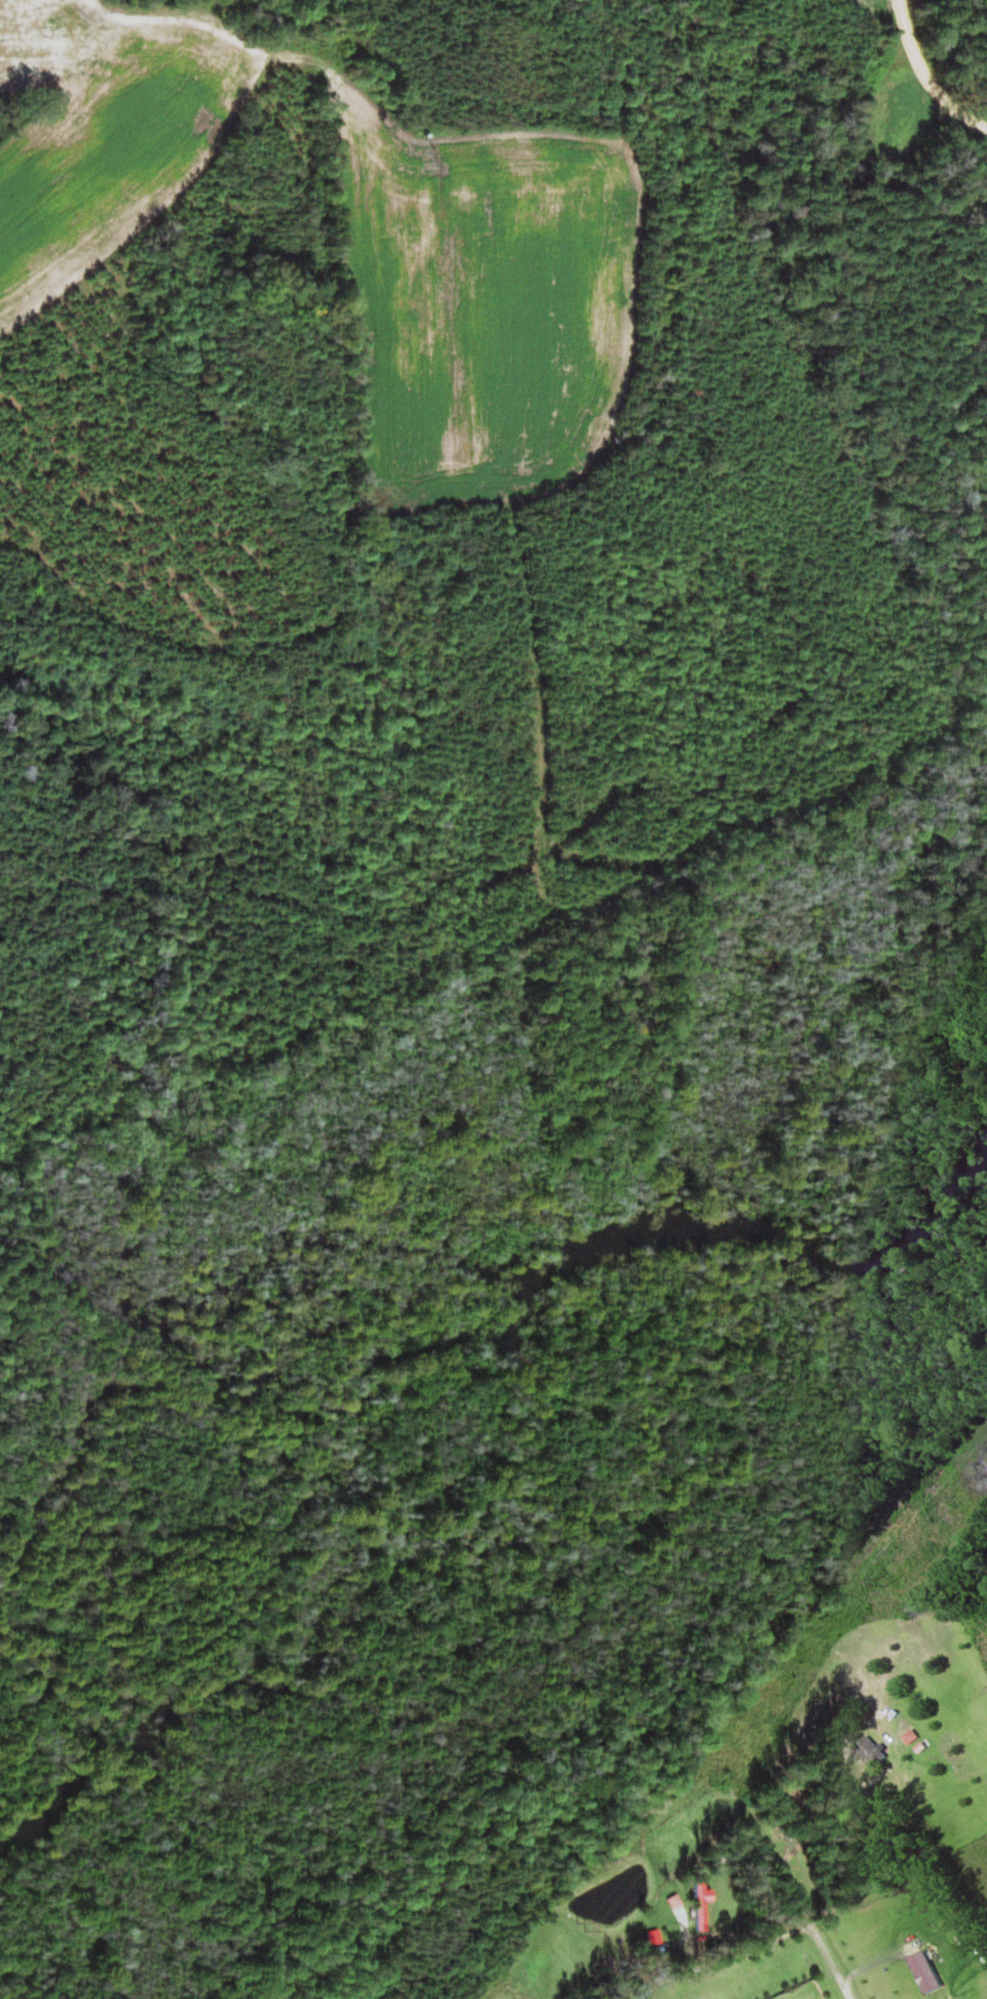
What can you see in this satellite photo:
road: (140, 70)
road: (924, 78)
power tower: (877, 1583)
building: (920, 1738)
building: (697, 1907)
power tower: (584, 1926)
road: (829, 1963)
building: (920, 1973)

